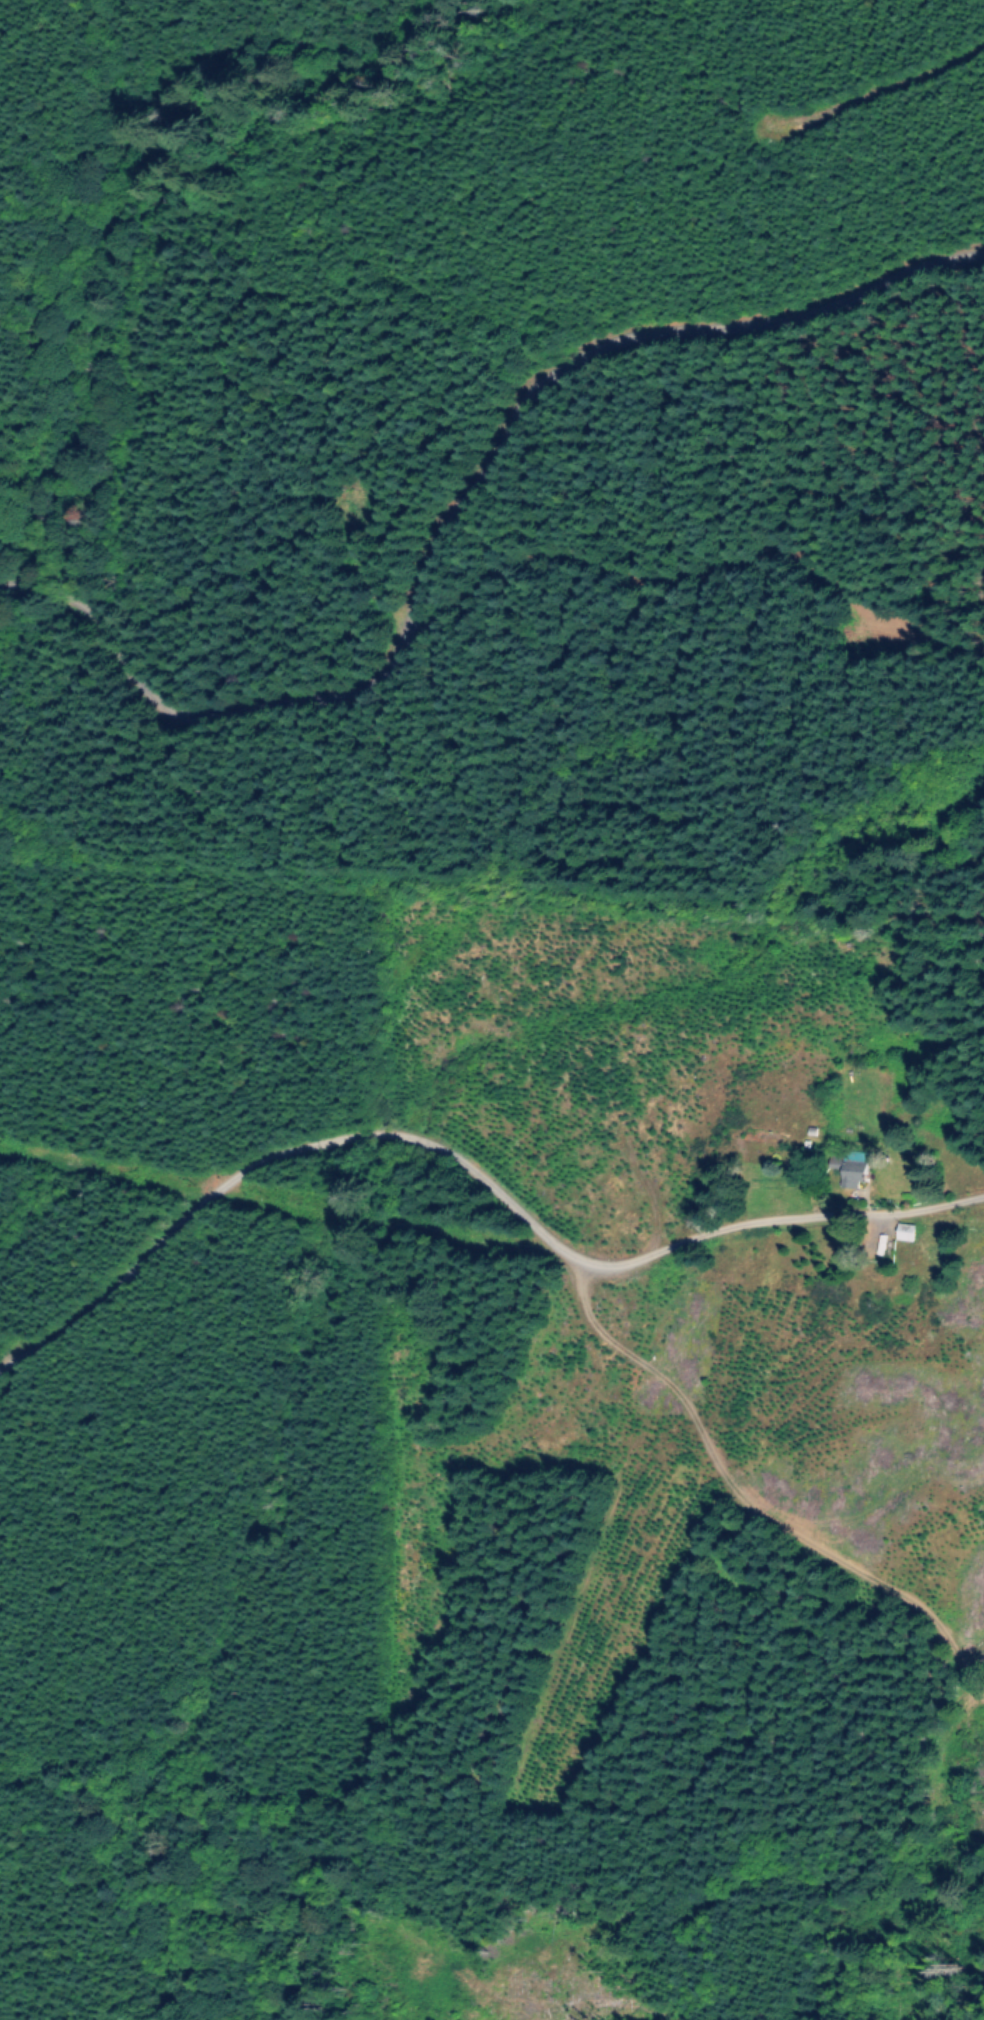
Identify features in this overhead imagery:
road: (381, 593)
road: (483, 609)
road: (445, 1182)

